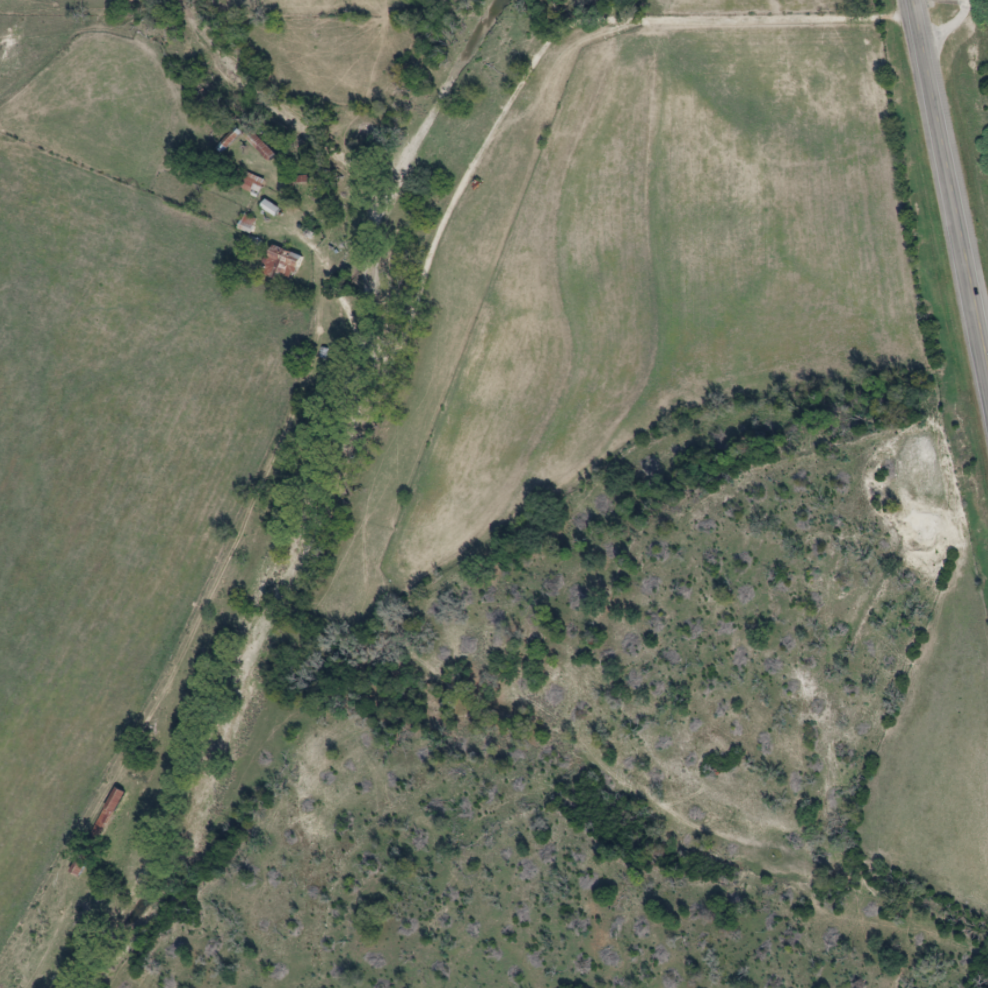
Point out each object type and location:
building: (271, 146)
building: (257, 184)
road: (949, 194)
building: (253, 224)
building: (291, 265)
building: (121, 798)

